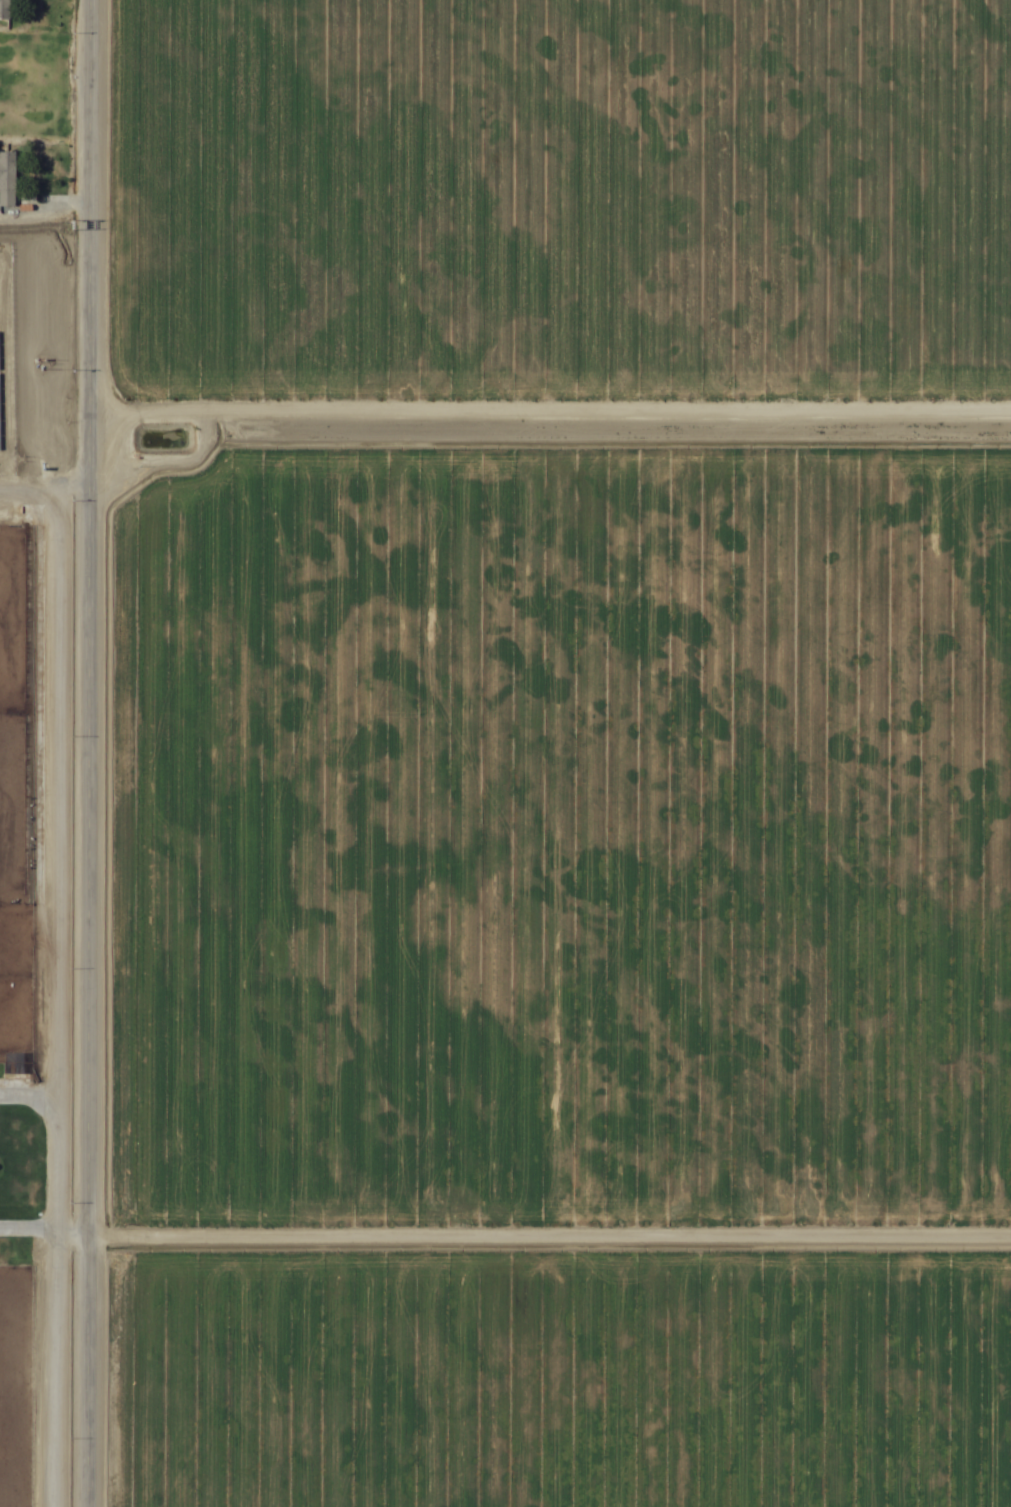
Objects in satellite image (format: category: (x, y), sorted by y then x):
building: (4, 10)
building: (7, 180)
road: (551, 448)
road: (92, 753)
road: (551, 1287)

